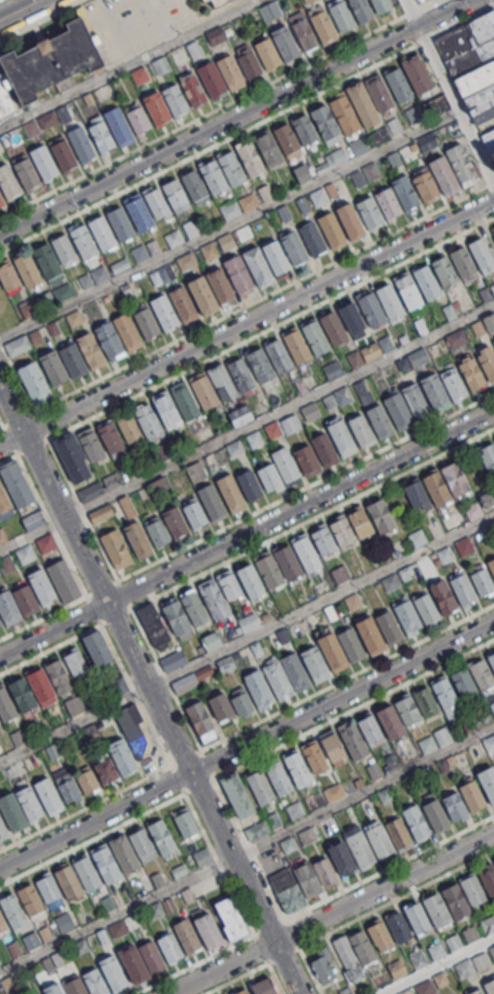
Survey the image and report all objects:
building: (308, 0)
building: (203, 1)
road: (493, 1)
building: (216, 2)
building: (381, 5)
road: (18, 9)
building: (270, 10)
building: (361, 10)
road: (411, 13)
building: (340, 14)
road: (40, 20)
building: (323, 26)
building: (303, 34)
building: (465, 35)
building: (286, 43)
building: (266, 52)
building: (44, 63)
road: (128, 63)
building: (249, 64)
building: (472, 67)
building: (230, 71)
building: (417, 73)
building: (139, 75)
building: (211, 80)
building: (398, 85)
building: (192, 89)
building: (379, 94)
building: (479, 99)
building: (174, 100)
building: (361, 102)
road: (455, 105)
building: (155, 106)
road: (217, 108)
building: (344, 114)
road: (235, 117)
building: (138, 120)
building: (483, 120)
building: (324, 121)
building: (0, 122)
building: (117, 124)
road: (246, 126)
building: (304, 129)
building: (31, 131)
building: (99, 133)
building: (286, 137)
building: (488, 141)
building: (80, 143)
building: (267, 147)
building: (62, 155)
building: (492, 156)
building: (251, 157)
building: (42, 161)
building: (460, 163)
building: (232, 169)
building: (26, 173)
building: (443, 174)
building: (213, 176)
building: (8, 181)
building: (426, 185)
building: (196, 187)
building: (405, 192)
building: (176, 195)
building: (0, 198)
building: (319, 198)
building: (157, 202)
building: (388, 203)
building: (230, 209)
building: (368, 211)
building: (139, 213)
building: (350, 220)
building: (120, 222)
road: (229, 225)
building: (331, 229)
building: (101, 232)
building: (493, 232)
building: (173, 238)
building: (312, 238)
building: (83, 242)
building: (226, 242)
building: (293, 246)
building: (63, 248)
building: (143, 252)
building: (480, 252)
building: (275, 256)
building: (48, 261)
building: (186, 261)
building: (462, 261)
building: (120, 266)
building: (257, 266)
building: (28, 269)
building: (443, 270)
building: (238, 274)
building: (161, 275)
building: (9, 276)
building: (426, 281)
building: (219, 284)
building: (492, 286)
building: (407, 289)
building: (63, 292)
building: (202, 295)
road: (263, 295)
building: (389, 299)
building: (182, 303)
building: (371, 309)
building: (163, 311)
road: (258, 316)
building: (351, 316)
building: (74, 318)
building: (145, 322)
road: (270, 326)
building: (332, 327)
building: (127, 332)
building: (316, 337)
building: (109, 341)
building: (493, 342)
building: (17, 345)
building: (297, 346)
building: (377, 348)
building: (90, 350)
building: (278, 354)
building: (418, 357)
building: (71, 358)
building: (487, 361)
building: (260, 364)
building: (52, 366)
building: (332, 370)
building: (240, 374)
building: (472, 375)
building: (221, 381)
building: (34, 383)
building: (452, 383)
building: (433, 388)
building: (203, 389)
building: (184, 399)
building: (414, 399)
building: (166, 408)
building: (396, 408)
road: (278, 410)
building: (240, 415)
road: (18, 418)
building: (148, 420)
building: (379, 421)
road: (1, 423)
road: (1, 426)
building: (129, 427)
building: (361, 430)
building: (110, 435)
building: (341, 437)
road: (9, 439)
road: (11, 440)
building: (91, 444)
road: (23, 449)
building: (323, 449)
building: (487, 456)
building: (71, 457)
building: (306, 459)
building: (285, 466)
building: (195, 471)
building: (269, 477)
building: (455, 478)
building: (112, 480)
building: (16, 484)
building: (248, 484)
road: (305, 485)
building: (436, 486)
building: (90, 491)
building: (230, 492)
building: (417, 496)
building: (486, 497)
building: (210, 500)
building: (4, 501)
building: (127, 506)
building: (100, 513)
building: (194, 513)
building: (380, 515)
building: (33, 520)
building: (174, 522)
building: (359, 522)
road: (50, 523)
building: (155, 529)
building: (342, 530)
road: (246, 533)
road: (32, 534)
building: (2, 535)
building: (417, 538)
building: (138, 539)
building: (323, 540)
building: (45, 543)
building: (464, 545)
building: (115, 548)
road: (246, 549)
building: (25, 553)
building: (307, 554)
building: (444, 555)
building: (288, 561)
building: (7, 564)
building: (491, 565)
building: (269, 569)
building: (339, 574)
building: (63, 580)
building: (250, 581)
building: (482, 581)
building: (390, 582)
building: (229, 583)
building: (41, 586)
building: (462, 588)
building: (443, 597)
building: (213, 598)
building: (26, 600)
road: (320, 600)
building: (7, 608)
road: (58, 608)
building: (194, 608)
road: (92, 609)
building: (426, 609)
building: (176, 617)
building: (407, 618)
building: (248, 622)
building: (0, 623)
building: (152, 623)
building: (388, 626)
building: (370, 635)
building: (211, 640)
building: (351, 645)
building: (97, 650)
building: (333, 651)
building: (172, 660)
building: (491, 660)
building: (75, 662)
building: (315, 662)
road: (161, 668)
building: (294, 671)
building: (481, 674)
building: (58, 676)
road: (347, 676)
building: (193, 679)
building: (278, 681)
building: (462, 682)
building: (40, 685)
road: (149, 690)
building: (258, 690)
building: (442, 690)
building: (21, 693)
road: (134, 694)
building: (240, 701)
building: (426, 701)
building: (219, 703)
building: (6, 705)
building: (75, 705)
building: (407, 709)
building: (199, 716)
building: (389, 721)
road: (73, 724)
building: (369, 727)
building: (132, 728)
building: (353, 741)
road: (246, 744)
building: (332, 746)
building: (429, 746)
building: (122, 756)
road: (185, 757)
building: (313, 757)
road: (247, 761)
building: (297, 769)
building: (106, 770)
building: (374, 772)
building: (277, 778)
road: (177, 779)
building: (88, 780)
building: (487, 782)
building: (259, 787)
building: (69, 789)
building: (333, 792)
road: (363, 792)
building: (48, 794)
building: (236, 795)
building: (472, 795)
building: (29, 802)
building: (453, 806)
road: (85, 807)
building: (295, 809)
building: (12, 810)
building: (435, 815)
building: (185, 821)
building: (415, 821)
building: (3, 828)
building: (256, 830)
building: (397, 833)
building: (162, 837)
building: (379, 840)
building: (142, 845)
building: (288, 845)
building: (360, 849)
building: (123, 852)
building: (340, 856)
building: (493, 859)
building: (105, 863)
road: (219, 863)
building: (324, 871)
building: (86, 873)
building: (487, 878)
building: (306, 879)
building: (67, 882)
road: (383, 887)
building: (47, 888)
building: (285, 890)
building: (471, 890)
road: (396, 898)
building: (29, 899)
building: (455, 900)
road: (313, 903)
building: (436, 909)
building: (14, 913)
road: (116, 915)
building: (417, 918)
building: (231, 919)
building: (2, 922)
building: (64, 922)
building: (488, 924)
building: (398, 927)
building: (207, 930)
building: (186, 936)
building: (379, 936)
building: (361, 946)
building: (168, 947)
road: (260, 947)
building: (436, 951)
building: (492, 951)
building: (344, 952)
building: (150, 955)
road: (283, 955)
building: (133, 964)
building: (323, 964)
road: (435, 965)
road: (222, 968)
building: (464, 968)
building: (113, 973)
road: (234, 978)
road: (275, 978)
building: (93, 982)
building: (74, 986)
building: (489, 986)
building: (264, 987)
building: (425, 987)
building: (52, 989)
building: (241, 991)
building: (344, 991)
building: (475, 991)
building: (460, 993)

